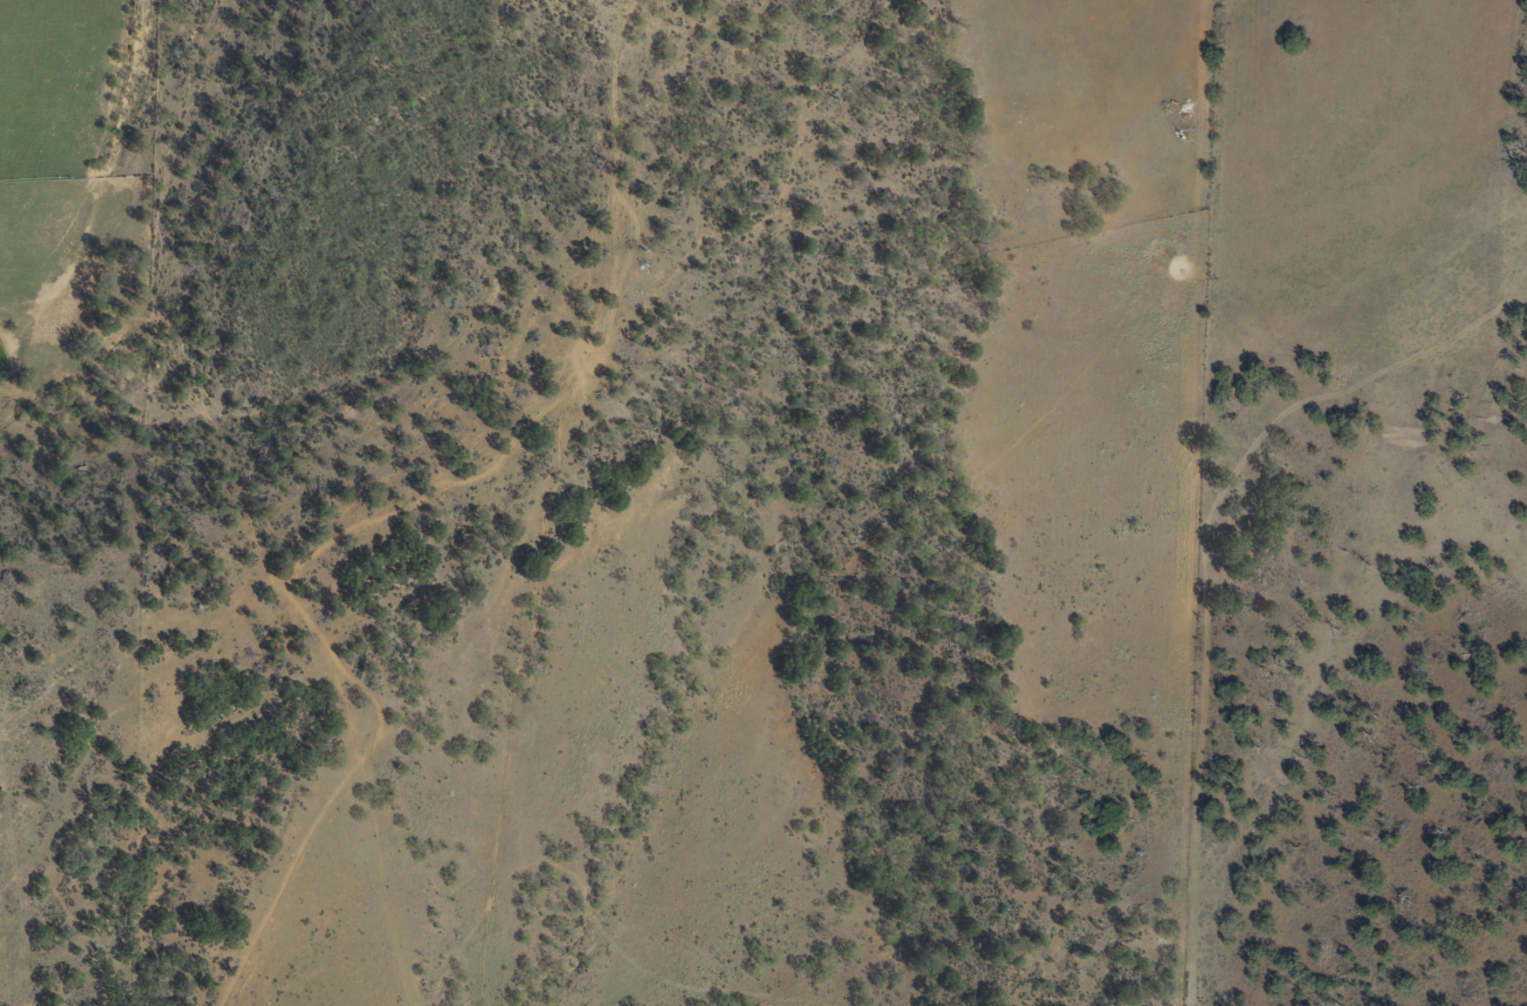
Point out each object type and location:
road: (520, 533)

